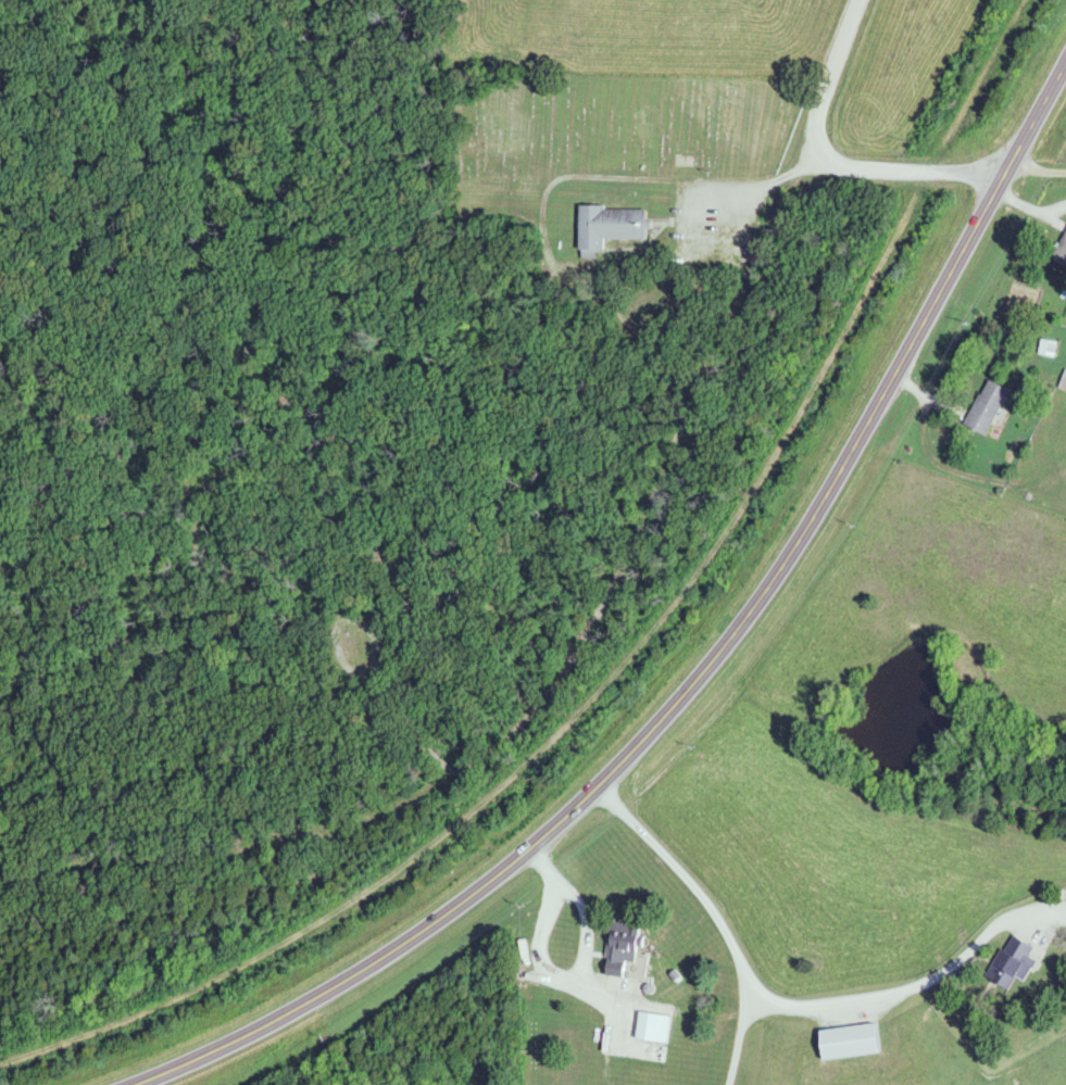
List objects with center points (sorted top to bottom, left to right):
road: (845, 37)
road: (815, 119)
road: (848, 168)
road: (1038, 172)
road: (1028, 211)
building: (605, 225)
building: (1059, 249)
building: (1063, 383)
building: (982, 406)
railway: (620, 654)
road: (705, 672)
road: (549, 924)
building: (619, 950)
building: (1008, 962)
road: (791, 1006)
building: (643, 1027)
building: (845, 1042)

